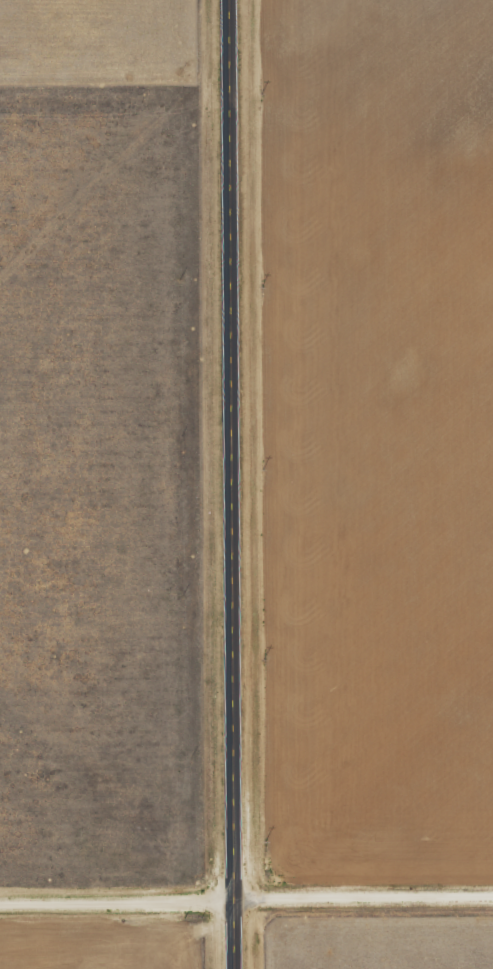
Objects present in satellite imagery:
road: (228, 484)
road: (246, 903)

